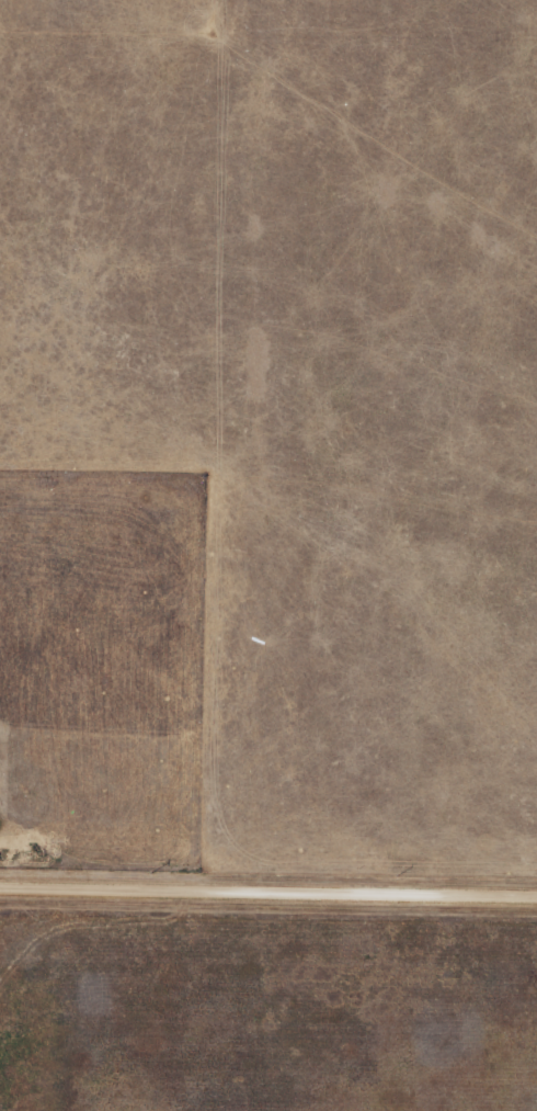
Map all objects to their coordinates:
road: (268, 887)

